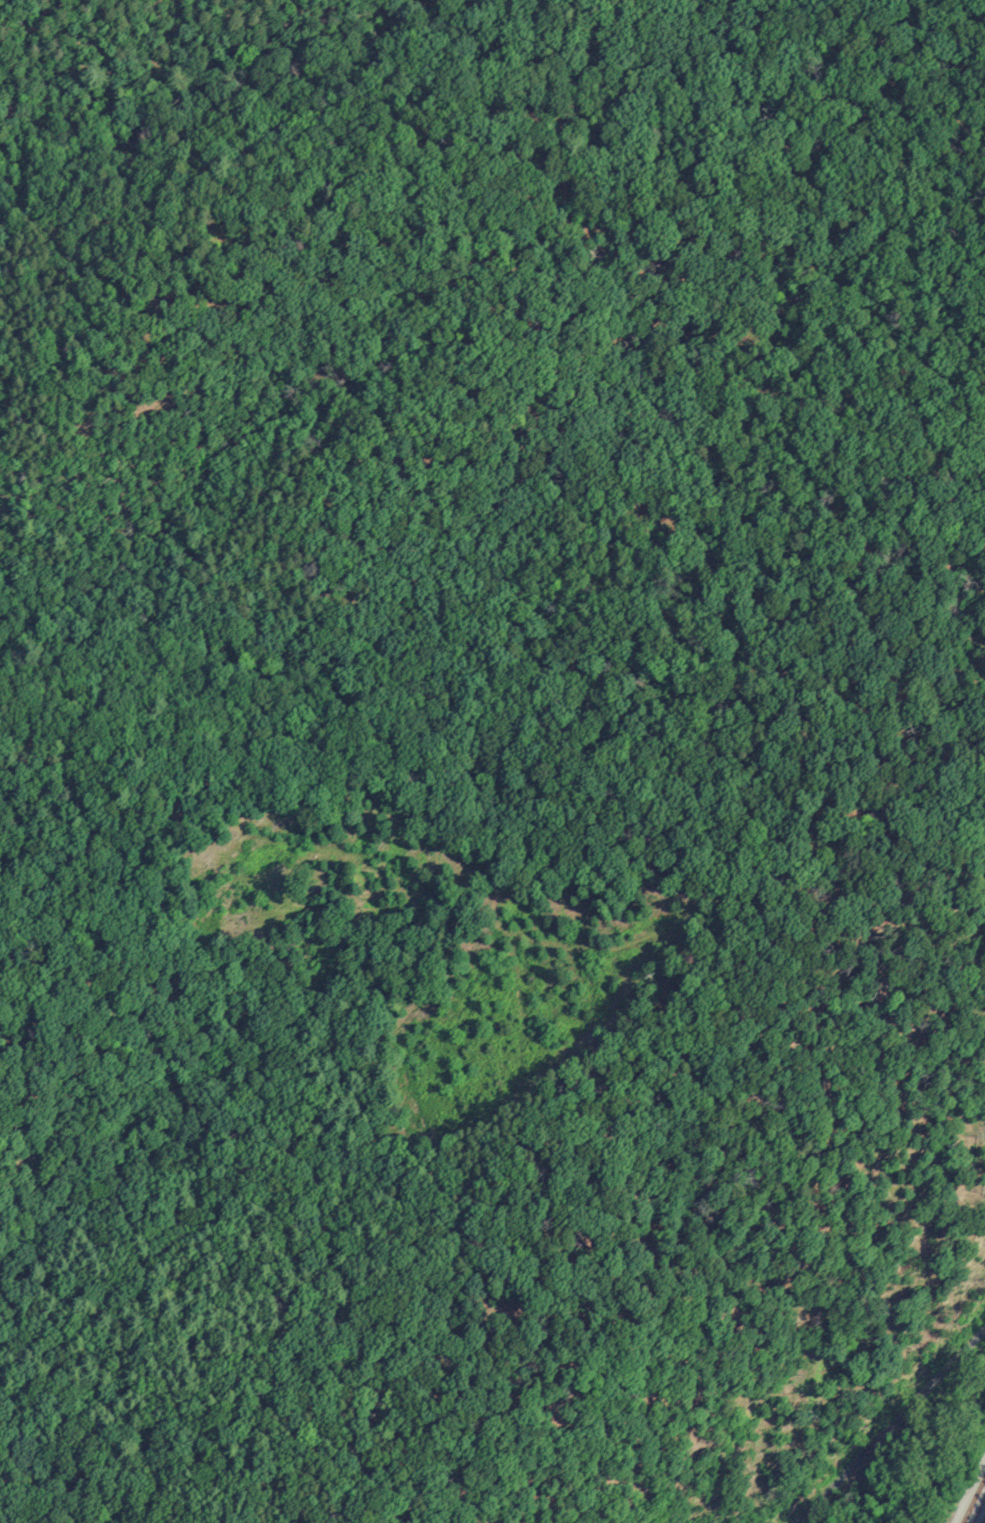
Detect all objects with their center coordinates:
road: (891, 1425)
railway: (974, 1500)
railway: (979, 1510)

